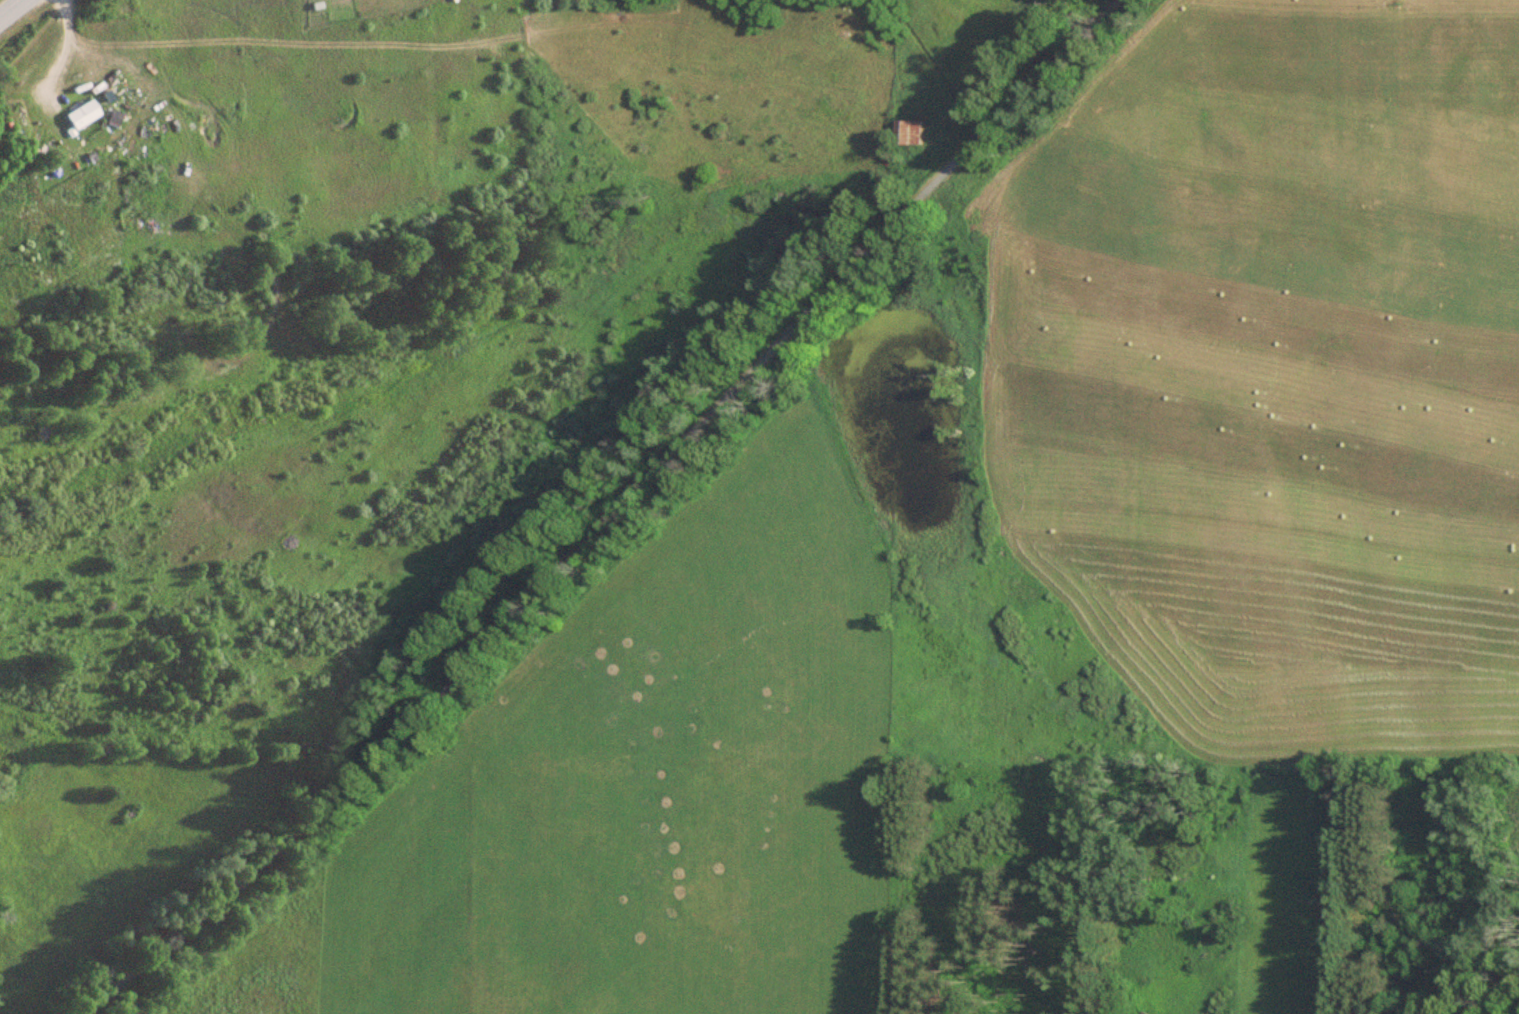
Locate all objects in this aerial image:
road: (8, 6)
building: (84, 115)
building: (915, 133)
road: (603, 516)

